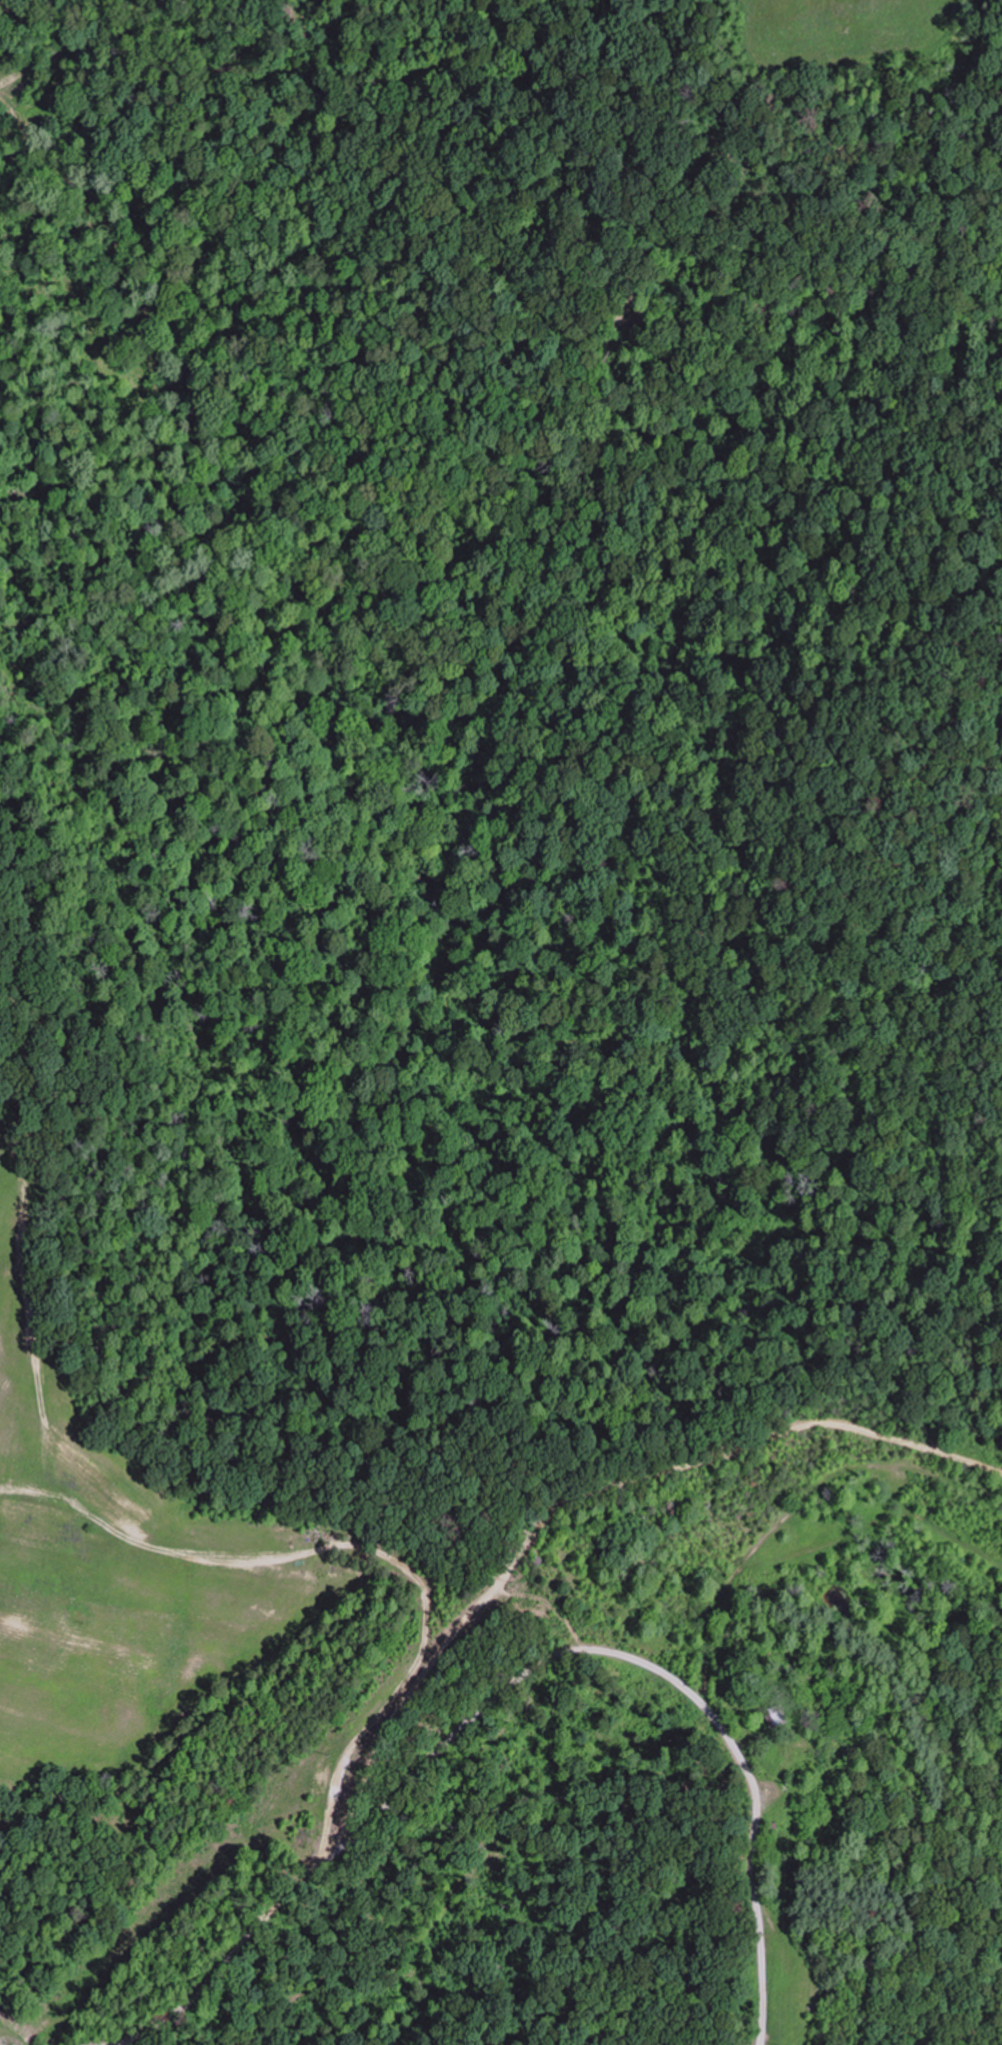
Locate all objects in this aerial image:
road: (520, 1674)
building: (775, 1715)

